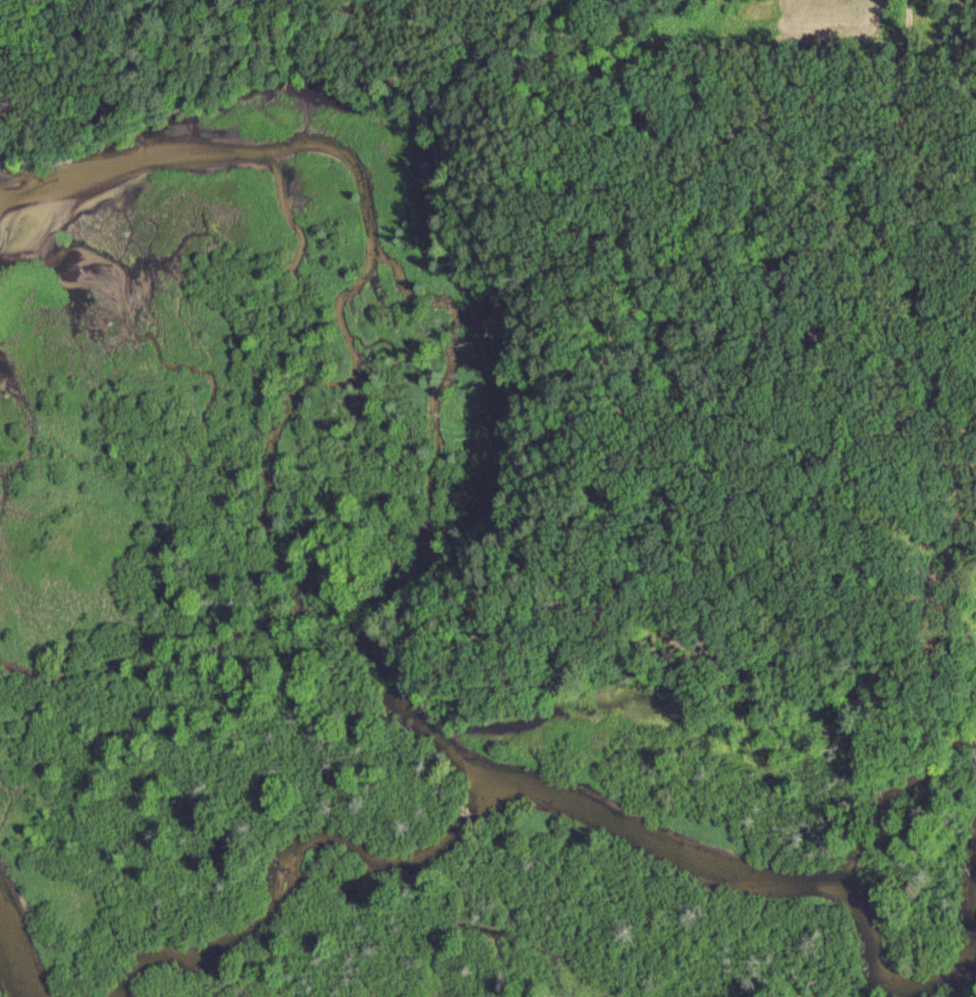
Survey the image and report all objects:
river: (19, 953)

